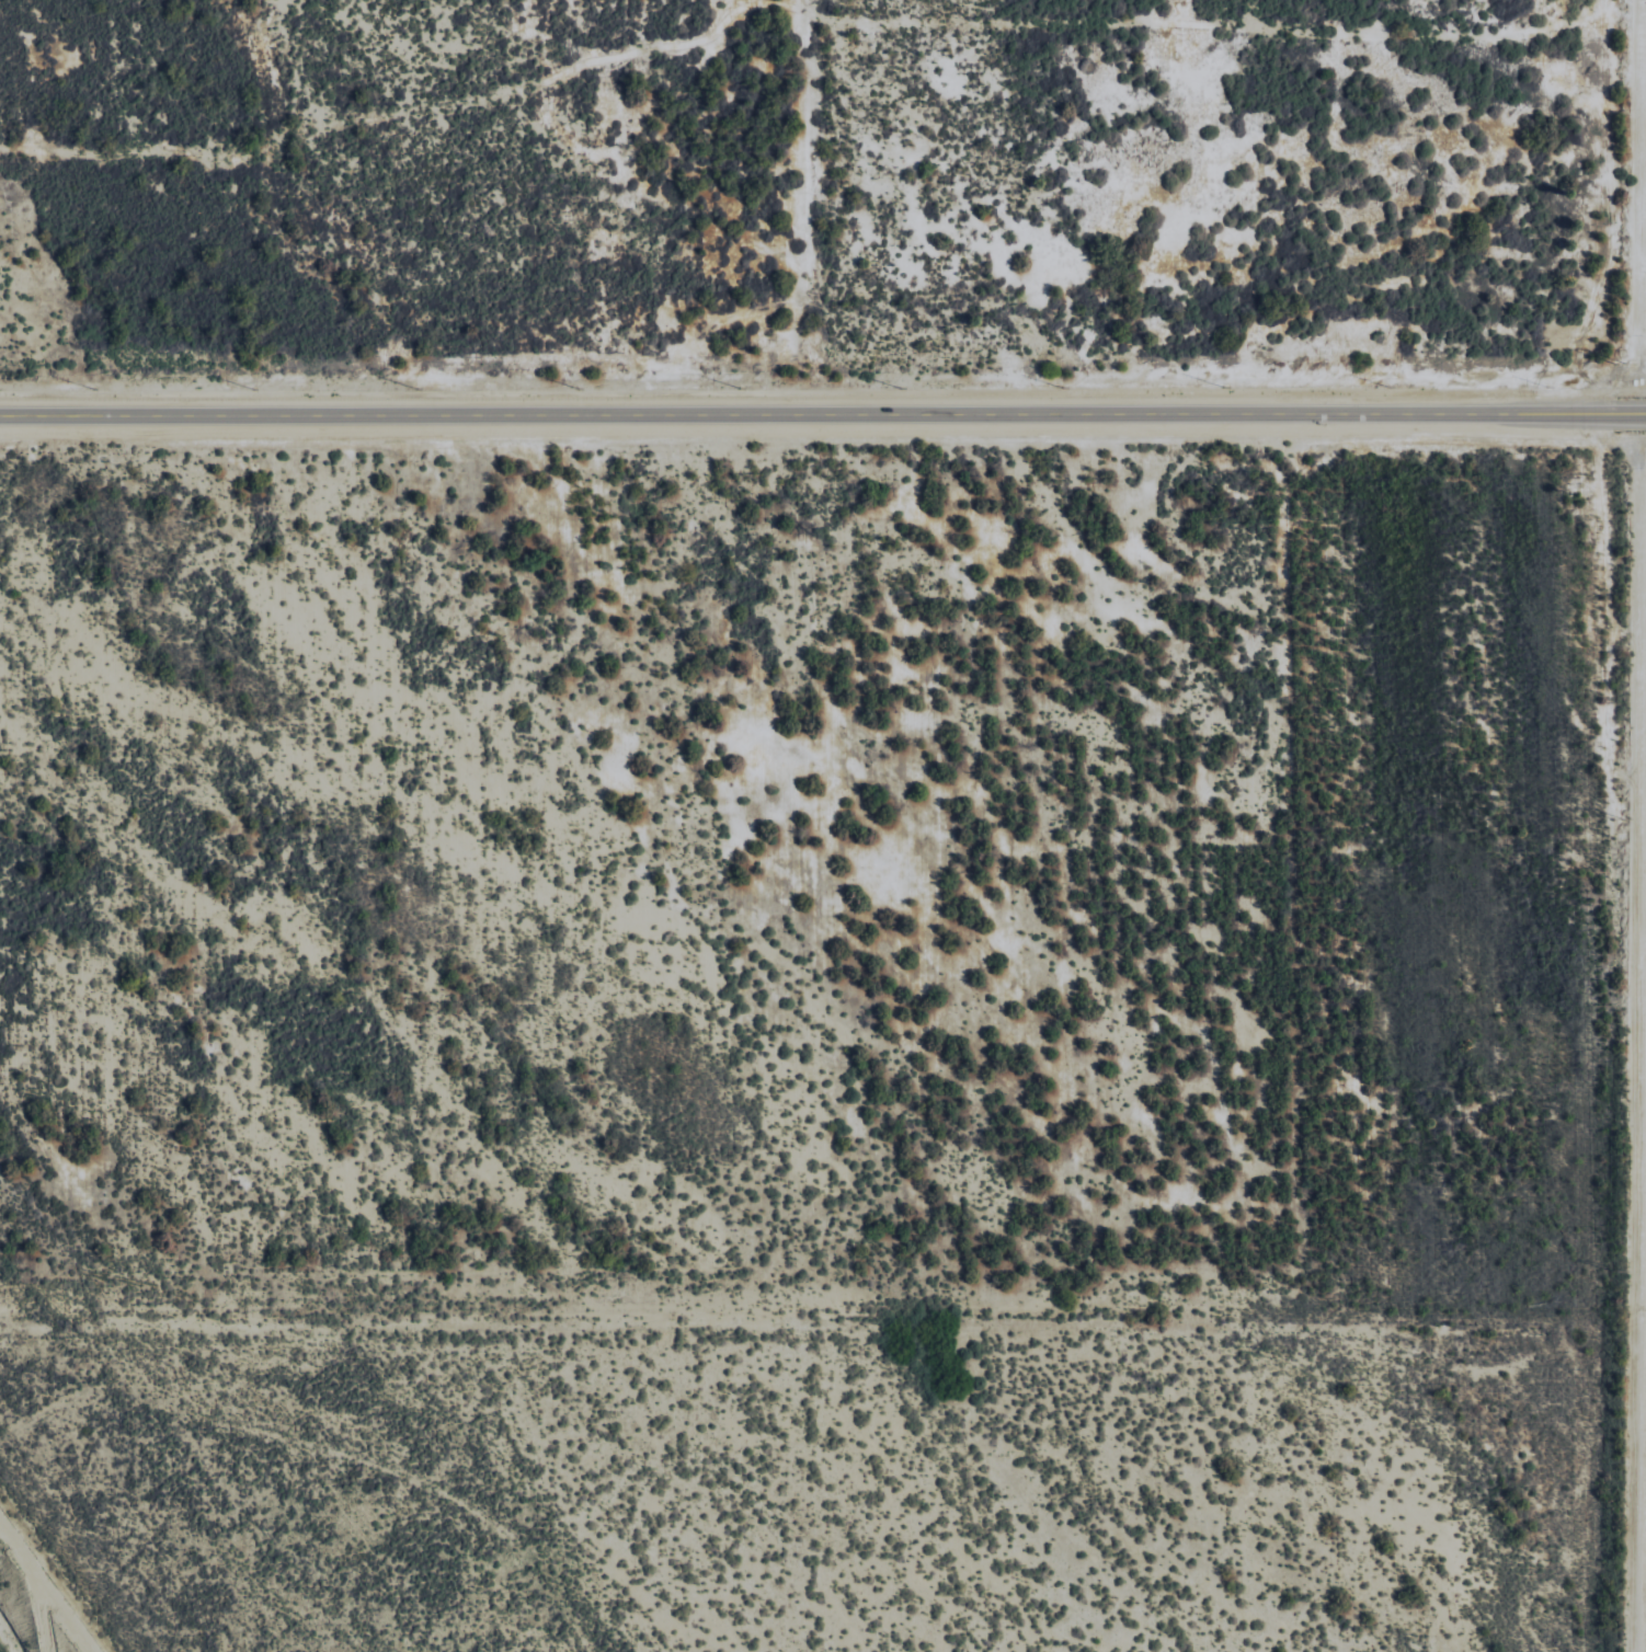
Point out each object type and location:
power tower: (1627, 356)
road: (822, 414)
power tower: (1623, 817)
power tower: (1621, 1267)
road: (1, 1650)

